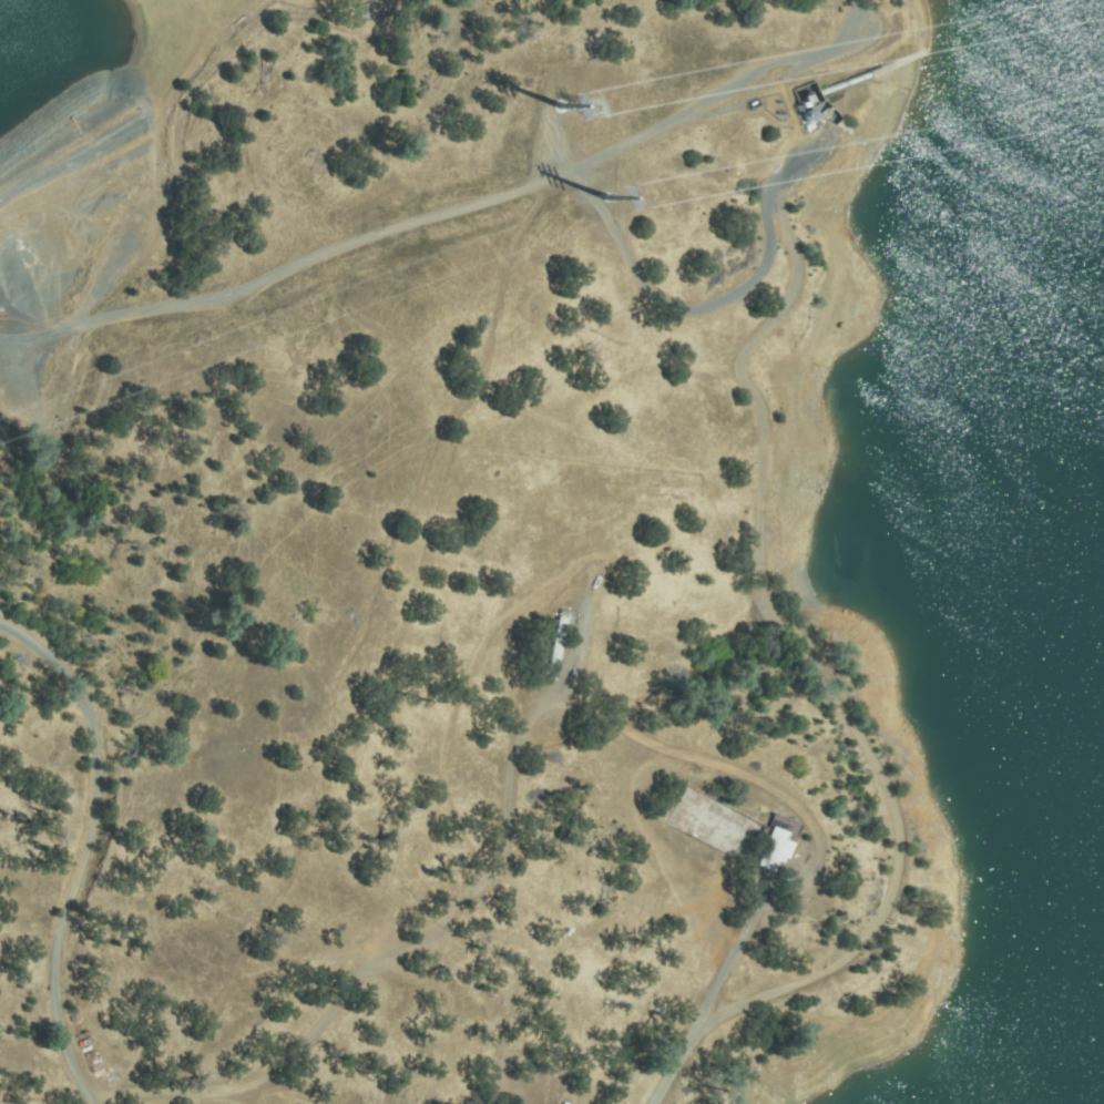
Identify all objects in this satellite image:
building: (811, 93)
power tower: (594, 110)
road: (176, 177)
road: (511, 190)
power tower: (637, 196)
road: (29, 337)
building: (560, 643)
road: (815, 661)
building: (790, 844)
road: (92, 848)
building: (777, 849)
road: (723, 988)

